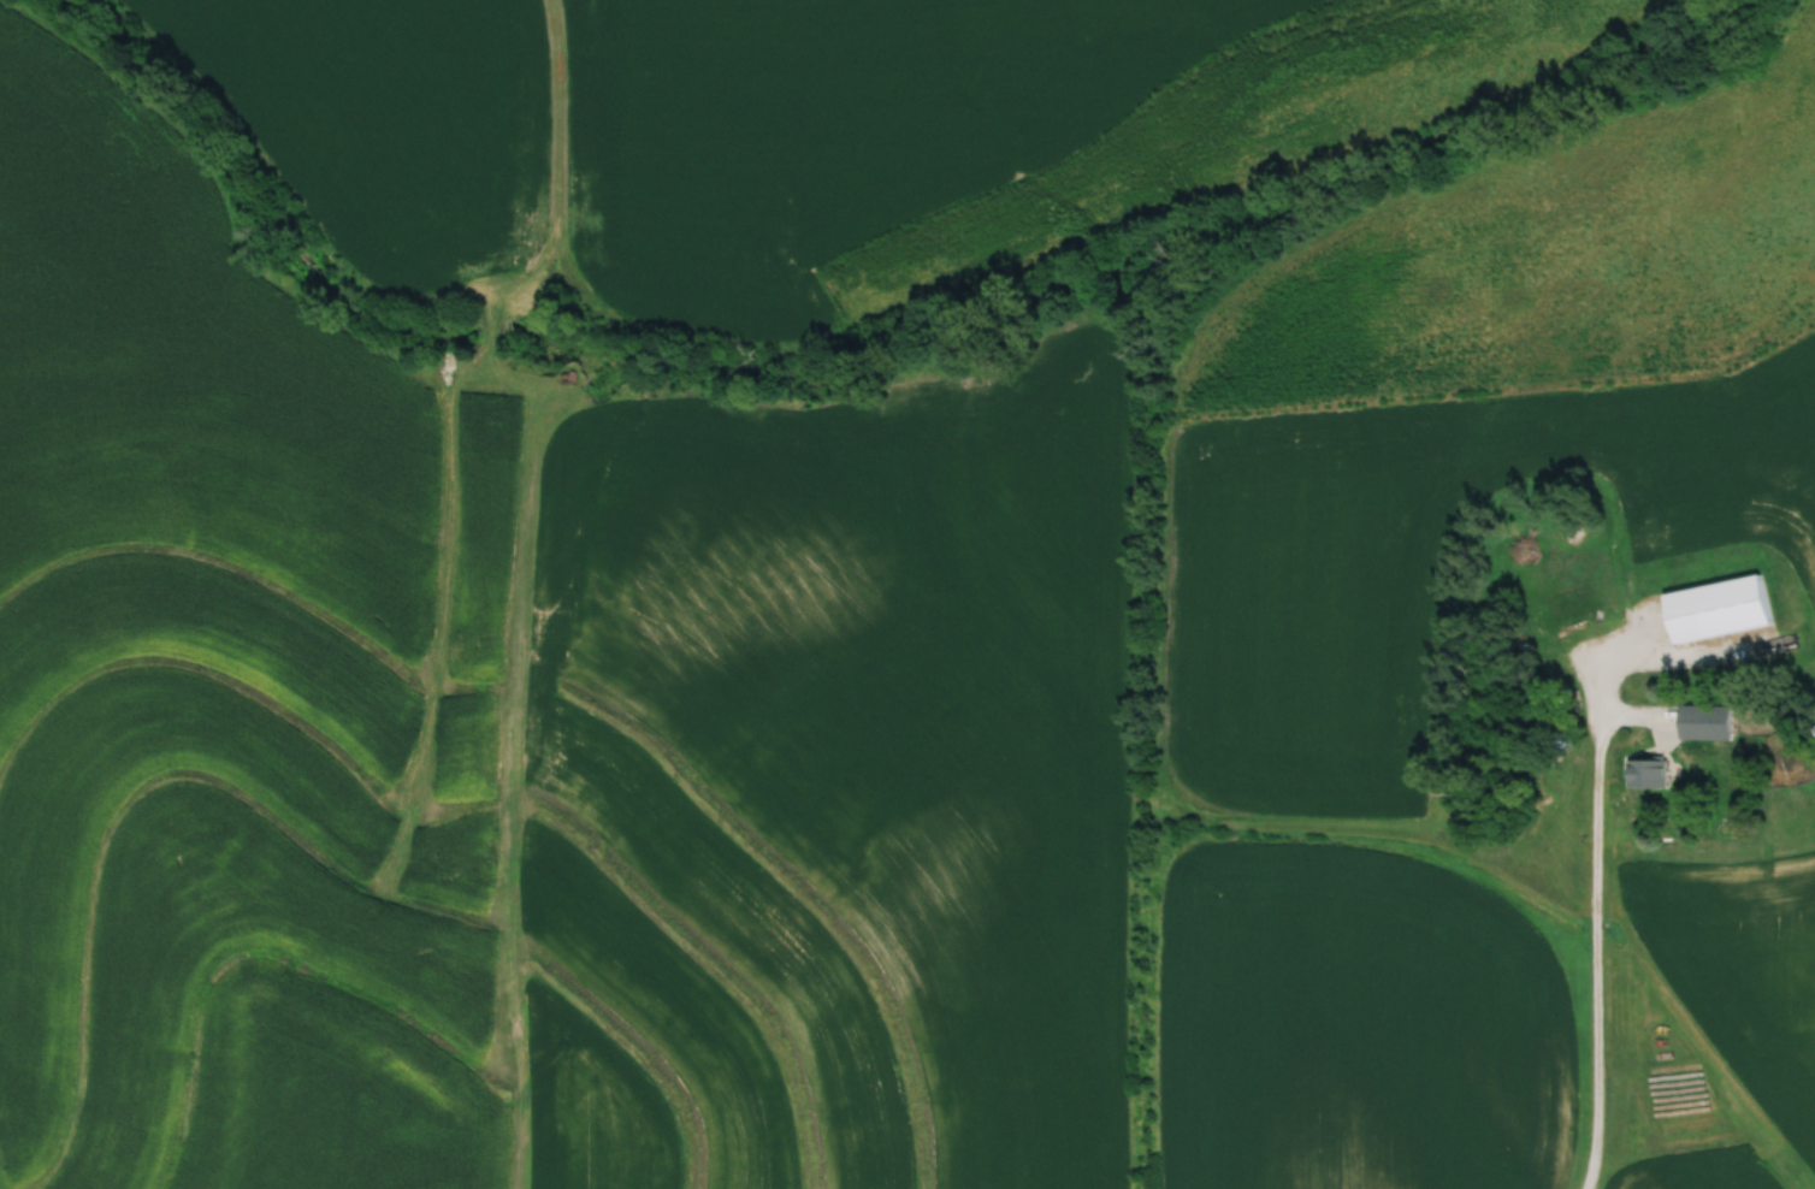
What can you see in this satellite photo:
building: (1719, 609)
building: (1693, 718)
building: (1724, 722)
building: (1646, 773)
road: (1596, 916)

